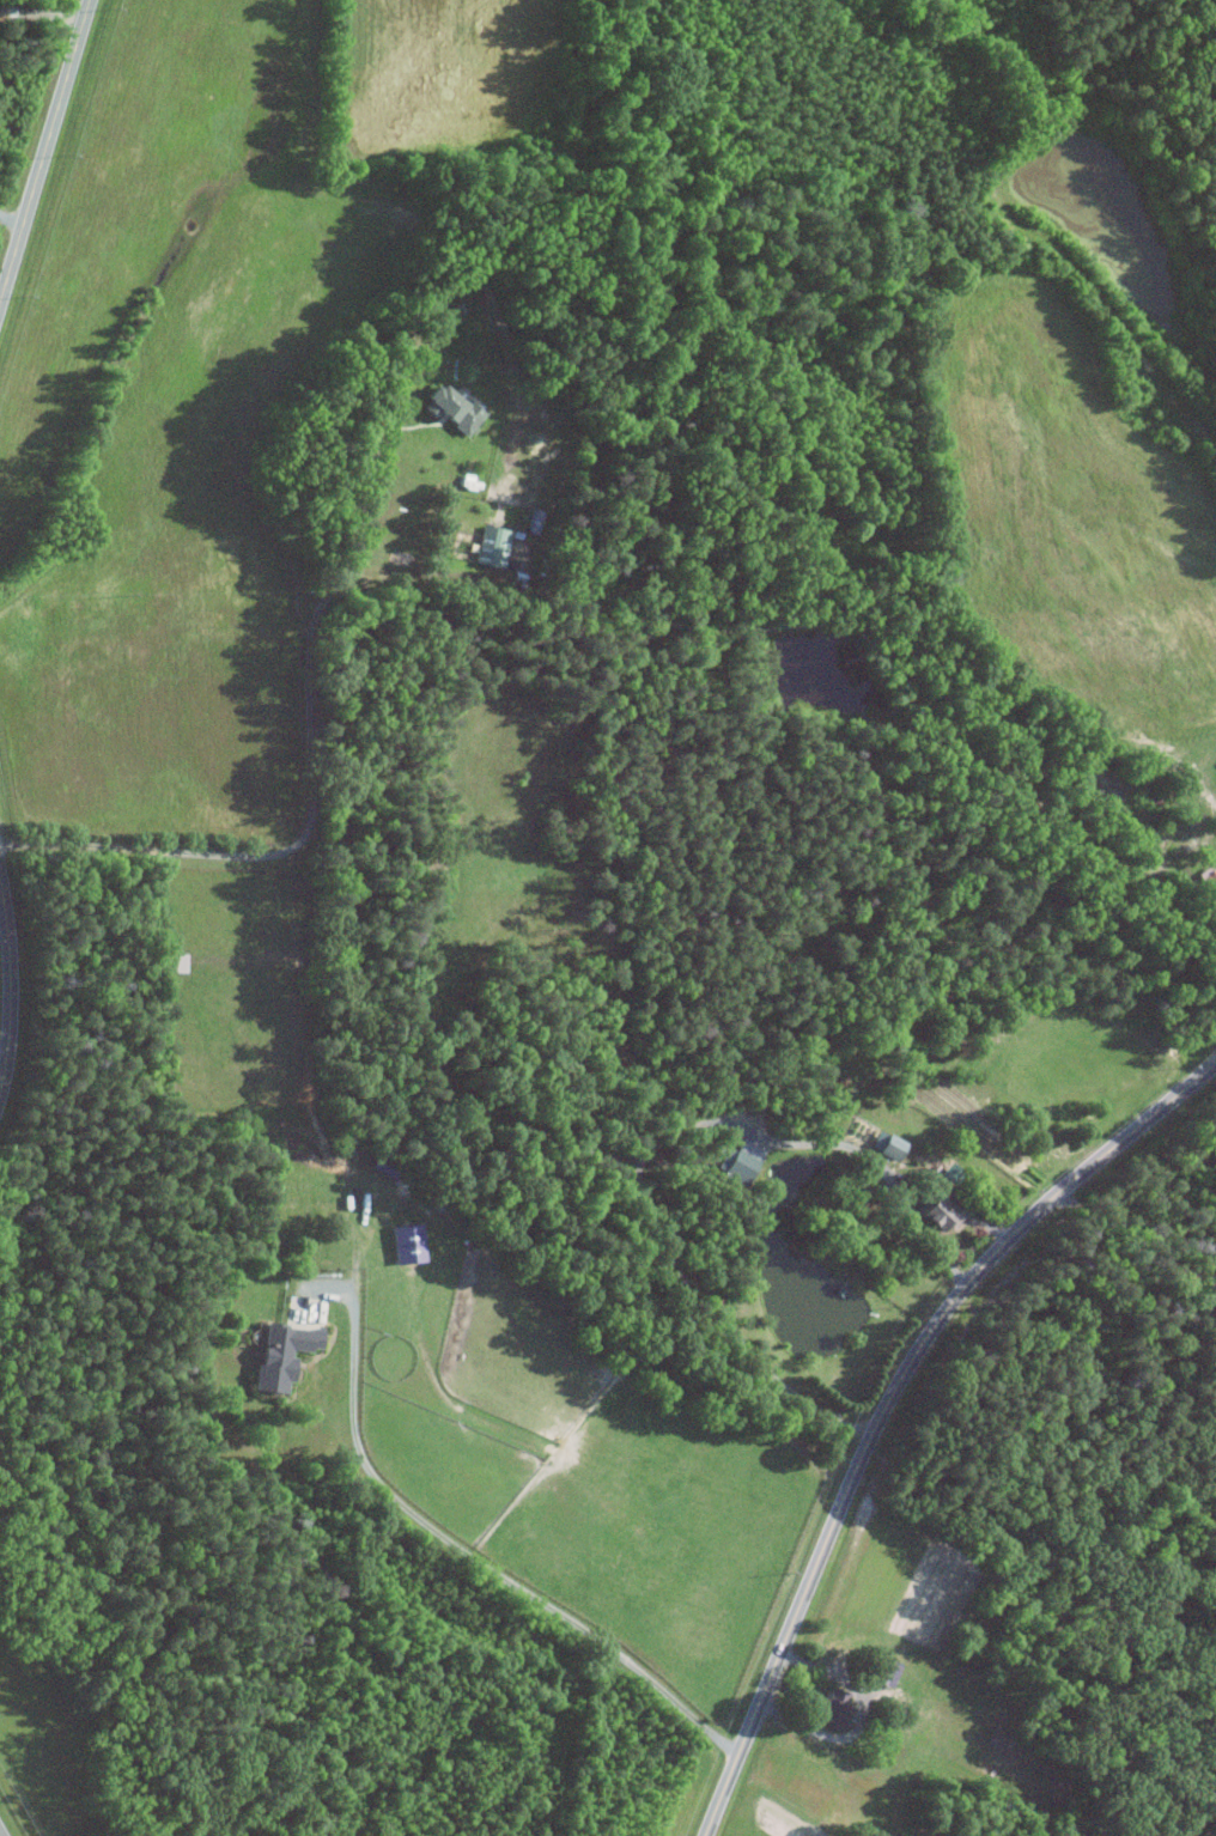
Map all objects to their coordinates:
road: (41, 14)
road: (43, 151)
road: (11, 220)
building: (448, 408)
building: (491, 546)
road: (311, 782)
building: (1208, 876)
building: (176, 962)
road: (10, 985)
building: (887, 1147)
road: (650, 1148)
building: (738, 1155)
road: (959, 1199)
building: (938, 1214)
building: (405, 1244)
building: (279, 1354)
road: (888, 1399)
road: (463, 1552)
building: (835, 1709)
road: (861, 1719)

